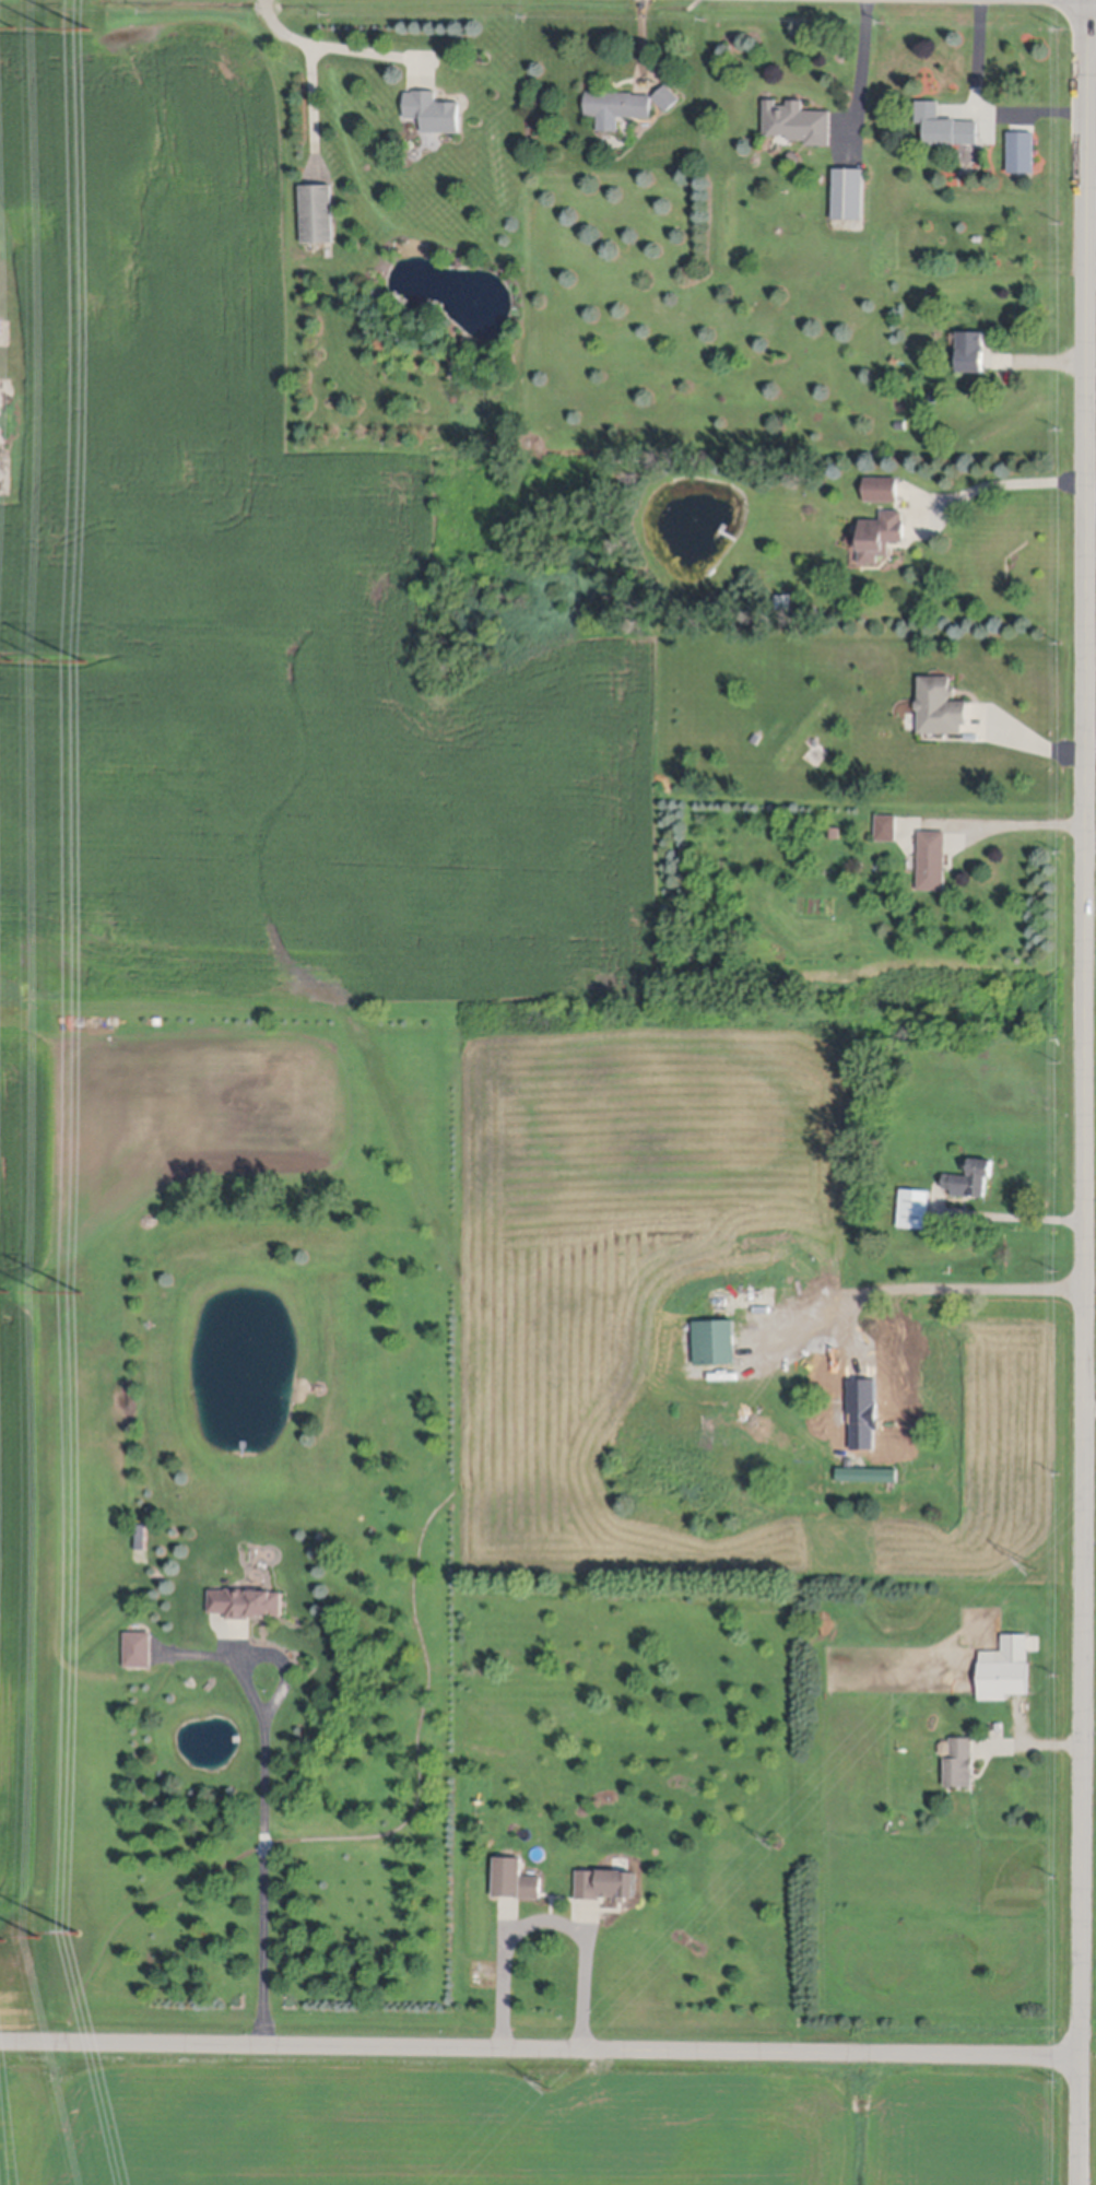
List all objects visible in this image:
power tower: (13, 24)
power tower: (49, 30)
power tower: (85, 32)
road: (338, 49)
road: (861, 73)
building: (667, 95)
building: (617, 105)
road: (313, 106)
road: (982, 107)
building: (435, 108)
building: (798, 119)
building: (945, 122)
building: (1022, 150)
building: (794, 155)
building: (848, 190)
building: (318, 210)
building: (1, 324)
building: (973, 348)
building: (900, 424)
road: (1002, 484)
building: (883, 487)
building: (881, 533)
building: (783, 602)
power tower: (11, 661)
power tower: (47, 662)
power tower: (85, 663)
building: (940, 705)
building: (757, 738)
road: (1026, 740)
building: (887, 826)
road: (1020, 826)
building: (836, 832)
building: (932, 859)
road: (1085, 1092)
building: (488, 1125)
building: (971, 1178)
building: (915, 1208)
road: (910, 1288)
power tower: (7, 1292)
power tower: (42, 1293)
building: (764, 1293)
power tower: (76, 1296)
building: (716, 1341)
road: (851, 1368)
building: (869, 1476)
power tower: (1029, 1565)
building: (103, 1573)
building: (246, 1603)
building: (139, 1649)
building: (1006, 1668)
building: (945, 1748)
building: (961, 1763)
road: (266, 1804)
power tower: (773, 1843)
building: (515, 1880)
building: (608, 1886)
road: (547, 1924)
power tower: (72, 1937)
power tower: (39, 1939)
power tower: (3, 1943)
road: (541, 2051)
power tower: (544, 2086)

